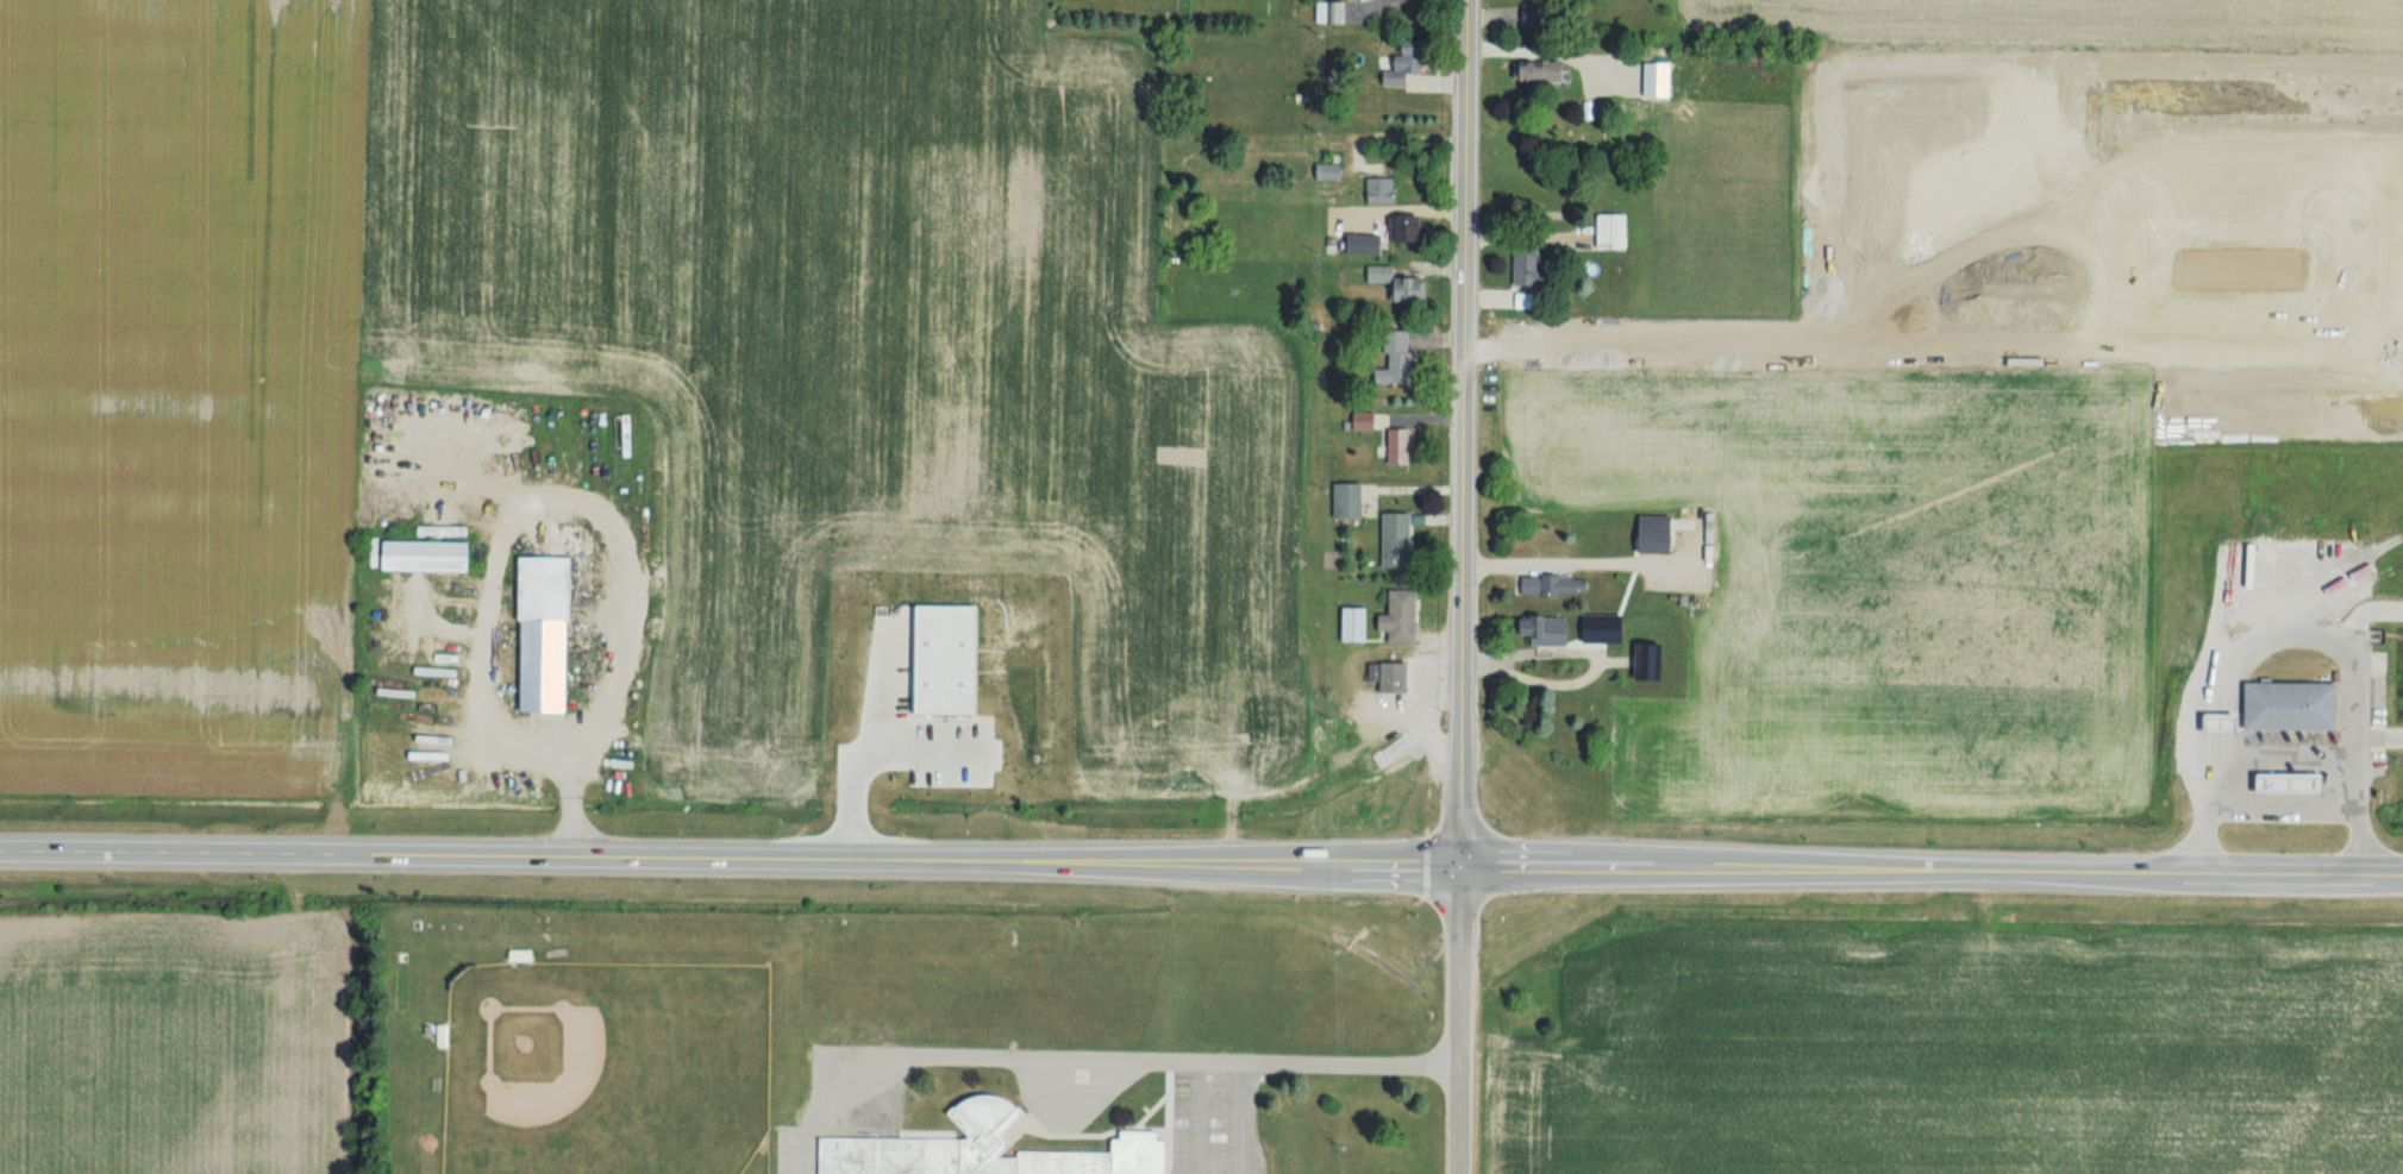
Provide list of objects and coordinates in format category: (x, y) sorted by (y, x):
building: (1606, 1)
building: (1333, 13)
building: (1538, 15)
building: (1406, 63)
building: (1547, 71)
building: (1332, 171)
building: (1383, 189)
building: (1404, 228)
building: (1616, 231)
building: (1365, 243)
building: (1533, 266)
building: (1397, 283)
building: (1401, 353)
building: (1364, 420)
road: (1463, 432)
building: (1400, 445)
road: (582, 500)
building: (1348, 500)
building: (1658, 533)
building: (1398, 539)
building: (432, 555)
building: (2247, 557)
road: (1560, 561)
building: (1554, 584)
road: (2364, 613)
building: (1404, 615)
building: (1356, 622)
building: (1548, 630)
building: (550, 633)
road: (2346, 659)
building: (1395, 677)
road: (1582, 677)
building: (2282, 707)
building: (2207, 724)
road: (2379, 736)
road: (2276, 756)
building: (2277, 784)
road: (2203, 840)
road: (2358, 842)
road: (1201, 864)
traffic signals: (1456, 865)
road: (1454, 1018)
road: (1084, 1063)
park: (619, 1091)
parking lot: (1068, 1103)
parking lot: (853, 1111)
road: (1202, 1119)
road: (1238, 1119)
parking lot: (1220, 1124)
building: (990, 1148)

